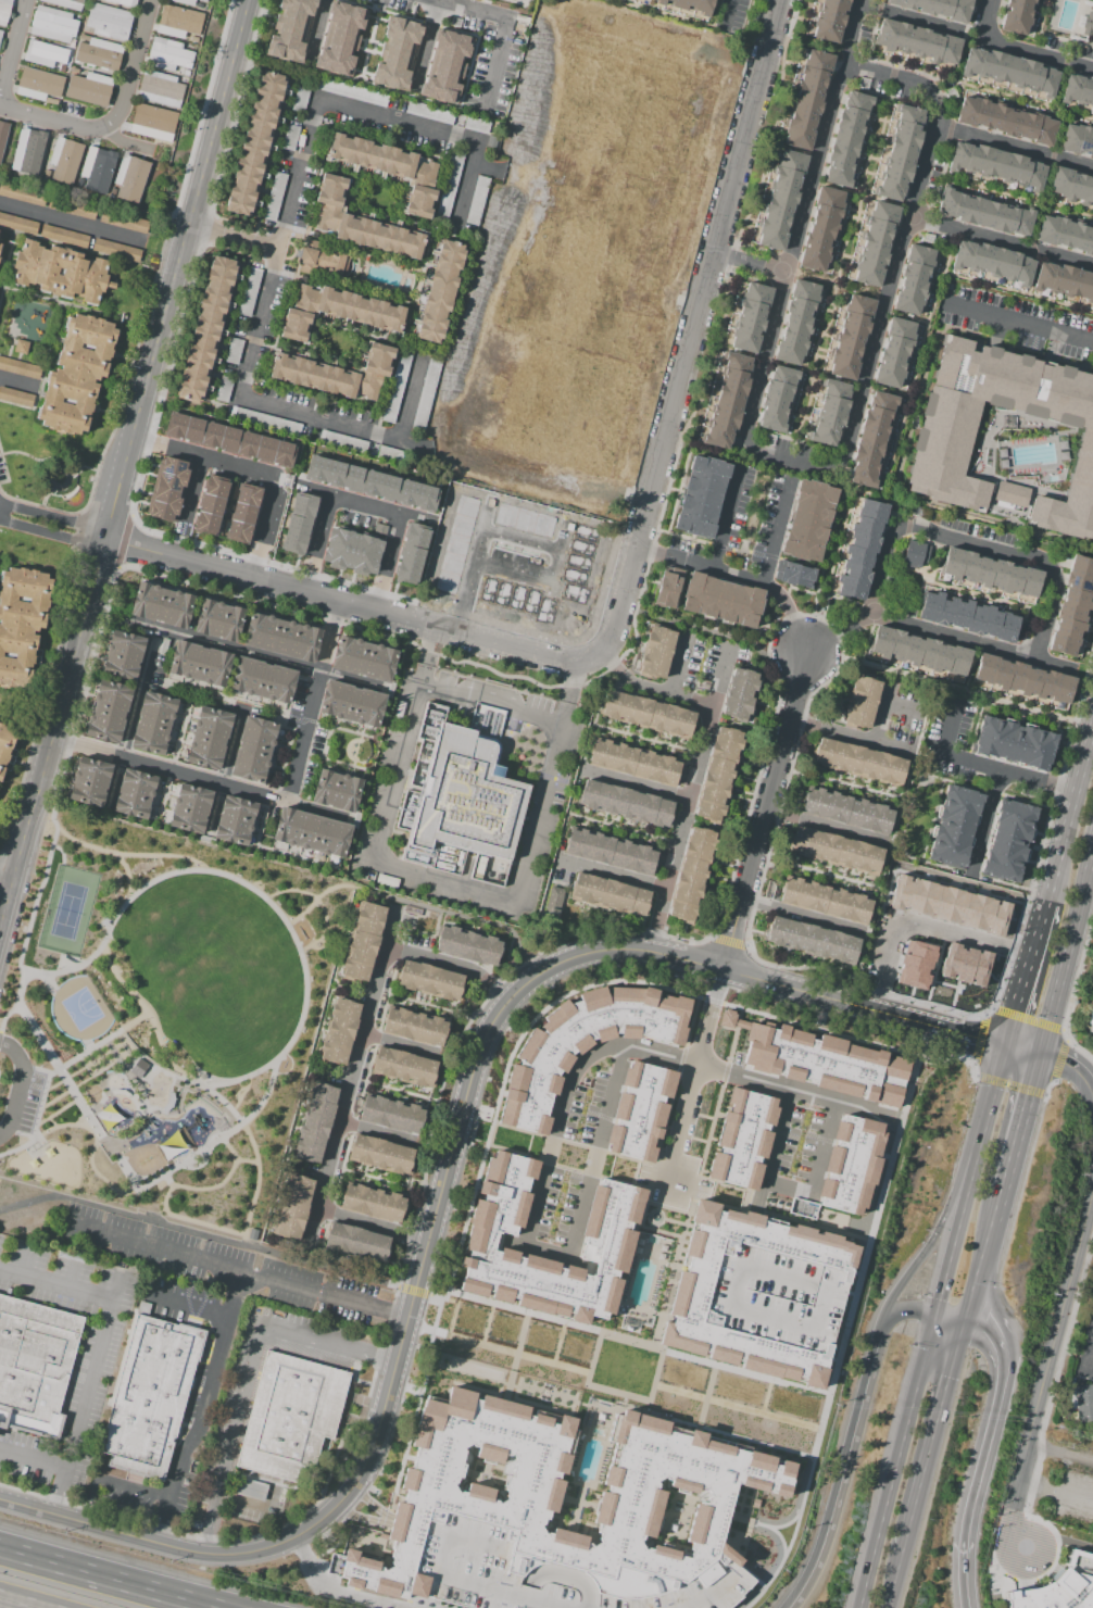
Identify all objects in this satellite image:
building: (202, 0)
building: (124, 2)
building: (185, 2)
building: (67, 3)
building: (690, 5)
building: (937, 8)
building: (4, 11)
road: (726, 13)
building: (1016, 15)
road: (908, 18)
building: (109, 21)
building: (829, 21)
building: (177, 22)
building: (1088, 24)
building: (54, 25)
building: (290, 29)
building: (1, 33)
road: (315, 33)
road: (502, 36)
building: (340, 38)
road: (664, 39)
building: (916, 41)
road: (426, 47)
road: (1017, 49)
road: (13, 50)
building: (98, 52)
building: (397, 54)
building: (46, 55)
building: (168, 55)
road: (130, 67)
building: (447, 67)
building: (1009, 71)
building: (40, 85)
building: (89, 88)
building: (161, 89)
building: (1078, 90)
building: (352, 91)
building: (300, 99)
building: (807, 100)
building: (527, 109)
building: (429, 113)
road: (361, 117)
building: (1004, 118)
road: (56, 121)
building: (153, 123)
building: (476, 125)
building: (3, 136)
building: (290, 137)
building: (846, 138)
building: (1077, 139)
building: (255, 142)
road: (1013, 148)
building: (30, 150)
building: (900, 152)
building: (64, 160)
building: (995, 164)
building: (96, 167)
building: (390, 168)
building: (130, 177)
building: (1071, 186)
building: (449, 187)
building: (23, 194)
road: (682, 194)
building: (274, 197)
building: (780, 200)
building: (477, 201)
building: (72, 208)
building: (984, 213)
road: (799, 221)
building: (124, 222)
building: (18, 224)
building: (362, 224)
road: (73, 225)
building: (820, 228)
road: (502, 230)
building: (1064, 234)
building: (64, 236)
road: (236, 238)
building: (875, 242)
road: (1000, 243)
building: (0, 246)
building: (116, 250)
building: (321, 261)
building: (992, 262)
road: (750, 263)
building: (585, 264)
building: (86, 272)
building: (913, 279)
building: (1064, 280)
road: (890, 282)
building: (249, 291)
building: (440, 291)
building: (337, 312)
building: (750, 317)
building: (796, 322)
road: (1018, 323)
building: (206, 329)
road: (695, 329)
building: (850, 337)
building: (21, 347)
building: (235, 351)
building: (894, 352)
building: (20, 368)
building: (337, 374)
building: (77, 375)
building: (397, 387)
building: (224, 389)
building: (426, 394)
building: (16, 397)
building: (777, 399)
building: (727, 401)
road: (269, 403)
building: (830, 412)
building: (264, 422)
building: (871, 438)
building: (229, 440)
building: (342, 442)
building: (938, 451)
building: (393, 455)
road: (204, 460)
road: (124, 470)
road: (546, 478)
building: (369, 482)
building: (168, 489)
road: (191, 493)
building: (1009, 494)
building: (701, 497)
building: (306, 498)
building: (211, 504)
road: (364, 505)
building: (242, 513)
road: (492, 515)
road: (724, 515)
road: (54, 516)
building: (807, 520)
road: (265, 529)
road: (776, 530)
road: (52, 533)
road: (972, 544)
building: (860, 550)
building: (351, 551)
building: (411, 553)
building: (915, 554)
road: (700, 563)
building: (990, 573)
building: (793, 575)
building: (522, 577)
building: (667, 587)
building: (721, 600)
building: (161, 604)
building: (1072, 605)
road: (355, 607)
road: (790, 613)
building: (967, 617)
building: (218, 620)
building: (22, 624)
road: (833, 635)
road: (946, 636)
building: (281, 637)
building: (918, 651)
building: (656, 652)
building: (123, 655)
building: (363, 658)
road: (1046, 659)
road: (269, 661)
building: (200, 664)
road: (677, 664)
road: (718, 677)
building: (1023, 678)
building: (263, 680)
building: (739, 695)
road: (493, 700)
building: (352, 703)
building: (862, 703)
road: (312, 704)
road: (134, 708)
building: (108, 711)
building: (646, 714)
building: (152, 724)
building: (209, 738)
road: (859, 741)
building: (1014, 742)
building: (8, 749)
building: (252, 749)
building: (858, 762)
building: (633, 763)
building: (718, 772)
road: (692, 774)
road: (1012, 775)
road: (200, 781)
building: (89, 782)
road: (633, 786)
building: (336, 789)
building: (134, 793)
building: (467, 797)
building: (626, 803)
building: (190, 807)
road: (766, 809)
building: (846, 811)
road: (1066, 819)
building: (235, 820)
building: (954, 826)
road: (827, 828)
building: (311, 832)
building: (1008, 841)
building: (836, 851)
building: (611, 852)
building: (692, 875)
road: (614, 877)
road: (447, 881)
road: (7, 887)
road: (255, 890)
building: (610, 894)
building: (825, 901)
building: (554, 902)
building: (948, 903)
road: (423, 904)
park: (70, 910)
road: (35, 916)
road: (803, 918)
road: (920, 927)
building: (811, 939)
building: (363, 942)
building: (468, 945)
road: (1068, 946)
road: (562, 963)
building: (964, 963)
building: (915, 964)
road: (452, 967)
park: (213, 969)
building: (429, 980)
road: (1025, 982)
park: (80, 1009)
building: (644, 1012)
park: (159, 1019)
building: (1091, 1022)
building: (414, 1027)
building: (340, 1032)
road: (967, 1032)
traffic signals: (1008, 1042)
road: (400, 1044)
road: (100, 1047)
road: (1023, 1047)
traffic signals: (1040, 1053)
building: (404, 1066)
building: (822, 1066)
road: (152, 1067)
road: (1072, 1068)
road: (352, 1071)
road: (690, 1080)
road: (996, 1082)
road: (22, 1084)
road: (206, 1091)
parking lot: (28, 1102)
building: (639, 1110)
building: (391, 1114)
building: (315, 1125)
road: (1019, 1129)
road: (377, 1133)
building: (742, 1138)
road: (822, 1146)
building: (380, 1154)
building: (849, 1164)
road: (131, 1181)
building: (373, 1203)
building: (293, 1206)
building: (802, 1208)
road: (529, 1219)
road: (372, 1227)
road: (939, 1227)
road: (206, 1239)
building: (356, 1242)
building: (606, 1243)
road: (26, 1259)
road: (982, 1264)
road: (234, 1270)
road: (72, 1272)
road: (55, 1283)
building: (757, 1294)
road: (185, 1308)
road: (909, 1311)
traffic signals: (940, 1316)
road: (1060, 1317)
road: (953, 1319)
traffic signals: (967, 1322)
road: (846, 1328)
road: (620, 1339)
road: (1091, 1358)
building: (34, 1366)
road: (926, 1366)
road: (1091, 1368)
road: (249, 1370)
road: (85, 1394)
building: (150, 1396)
building: (1082, 1402)
road: (202, 1408)
building: (290, 1417)
road: (937, 1435)
road: (982, 1454)
road: (1060, 1456)
road: (33, 1459)
road: (843, 1470)
road: (114, 1483)
building: (479, 1491)
road: (1056, 1492)
parking lot: (1073, 1496)
building: (247, 1498)
road: (1015, 1499)
road: (249, 1500)
road: (380, 1520)
road: (282, 1541)
road: (1019, 1576)
road: (109, 1578)
road: (897, 1579)
building: (1059, 1586)
road: (338, 1590)
road: (18, 1603)

